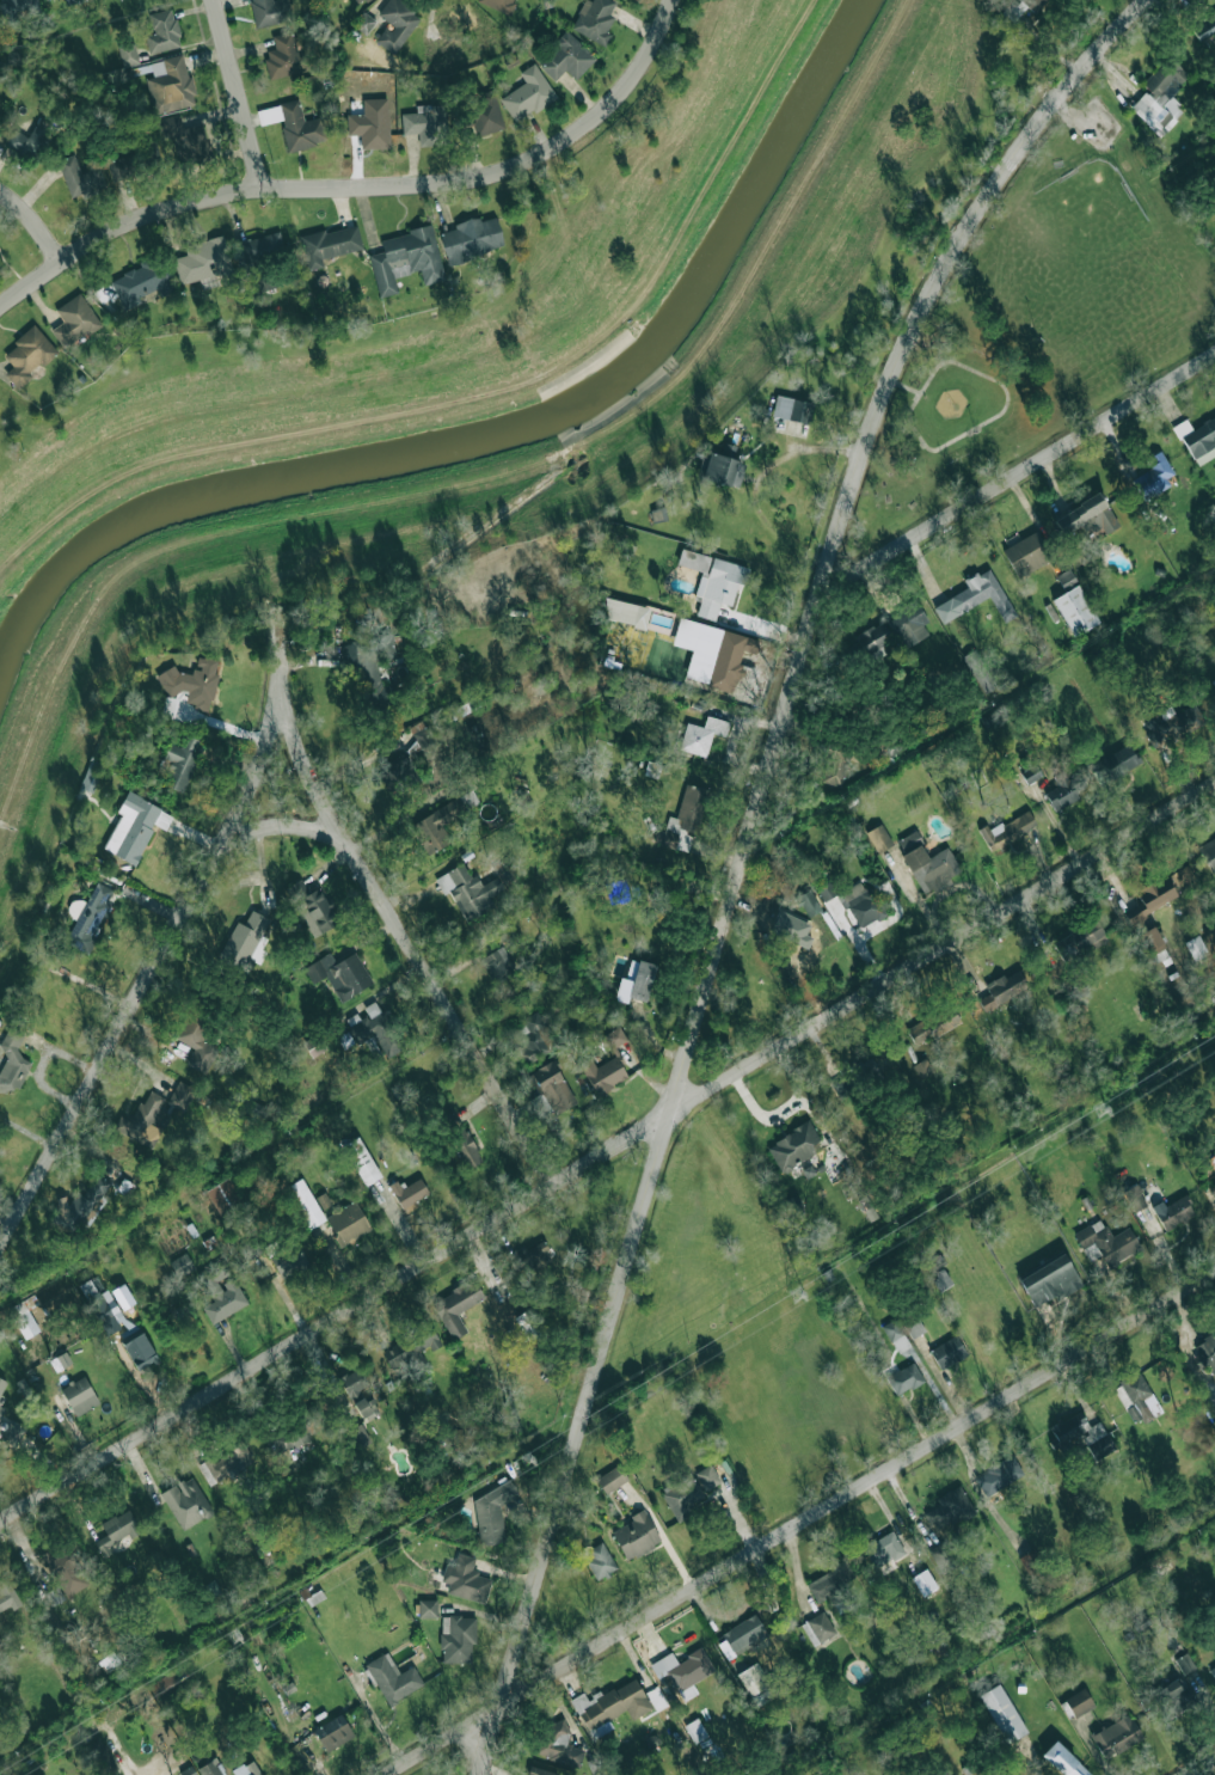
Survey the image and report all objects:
building: (69, 1)
building: (360, 1)
building: (498, 5)
building: (19, 7)
building: (1021, 7)
building: (269, 11)
building: (594, 19)
building: (363, 22)
building: (395, 24)
building: (1204, 27)
building: (162, 32)
building: (128, 53)
building: (284, 57)
building: (566, 57)
building: (170, 84)
road: (241, 91)
building: (528, 93)
building: (1160, 97)
building: (485, 114)
building: (370, 123)
building: (427, 123)
building: (294, 124)
building: (185, 139)
building: (27, 143)
building: (123, 167)
building: (79, 177)
road: (358, 180)
road: (39, 213)
building: (472, 238)
building: (329, 244)
building: (257, 246)
building: (203, 259)
building: (406, 259)
building: (142, 281)
park: (1044, 317)
building: (74, 320)
building: (27, 355)
road: (904, 386)
building: (792, 409)
road: (968, 431)
river: (498, 434)
building: (1197, 439)
building: (720, 466)
building: (1153, 476)
road: (1017, 478)
building: (1081, 510)
building: (1027, 553)
building: (1066, 579)
building: (713, 581)
building: (982, 593)
building: (1075, 610)
building: (626, 612)
building: (910, 623)
building: (873, 644)
building: (713, 653)
road: (282, 655)
building: (367, 655)
building: (1214, 681)
building: (191, 683)
building: (424, 733)
building: (701, 735)
building: (1117, 759)
building: (180, 761)
building: (833, 766)
building: (397, 770)
road: (257, 773)
building: (1031, 773)
building: (1064, 789)
building: (688, 810)
building: (135, 826)
building: (435, 826)
building: (1008, 830)
building: (878, 838)
building: (1209, 851)
road: (745, 855)
building: (927, 863)
building: (467, 890)
building: (826, 890)
building: (808, 902)
building: (1149, 902)
building: (863, 904)
building: (318, 911)
building: (87, 918)
building: (1080, 941)
building: (245, 942)
building: (803, 942)
road: (409, 944)
building: (1153, 944)
building: (1196, 947)
road: (780, 954)
building: (497, 963)
building: (339, 974)
building: (636, 981)
building: (1005, 986)
road: (141, 987)
building: (933, 1026)
building: (378, 1028)
building: (532, 1036)
building: (196, 1040)
building: (314, 1045)
building: (12, 1060)
building: (607, 1065)
building: (922, 1069)
building: (552, 1087)
building: (180, 1095)
power tower: (1097, 1109)
building: (143, 1116)
building: (793, 1146)
road: (608, 1147)
building: (465, 1149)
building: (361, 1161)
building: (1214, 1161)
building: (407, 1193)
building: (1134, 1198)
building: (226, 1199)
building: (305, 1202)
building: (1173, 1212)
building: (348, 1223)
building: (1105, 1242)
building: (532, 1257)
building: (289, 1260)
building: (179, 1266)
building: (940, 1280)
building: (1050, 1280)
building: (220, 1294)
power tower: (794, 1296)
building: (123, 1297)
building: (455, 1305)
building: (24, 1316)
building: (528, 1324)
building: (127, 1326)
building: (914, 1327)
building: (896, 1335)
building: (410, 1345)
building: (1209, 1347)
building: (947, 1352)
building: (60, 1361)
building: (904, 1378)
building: (354, 1382)
building: (2, 1385)
building: (79, 1395)
building: (1136, 1398)
building: (367, 1407)
building: (1, 1410)
building: (360, 1436)
building: (1080, 1436)
building: (290, 1438)
building: (226, 1464)
building: (998, 1475)
building: (707, 1476)
building: (612, 1479)
building: (681, 1495)
building: (186, 1502)
building: (949, 1508)
building: (491, 1512)
road: (792, 1523)
building: (116, 1530)
building: (636, 1535)
building: (883, 1548)
building: (941, 1556)
building: (599, 1560)
building: (1031, 1562)
building: (65, 1571)
building: (465, 1579)
building: (923, 1581)
building: (7, 1595)
power tower: (317, 1596)
building: (427, 1608)
building: (818, 1628)
building: (742, 1635)
building: (458, 1638)
building: (1214, 1651)
building: (1185, 1663)
building: (682, 1671)
building: (1213, 1671)
building: (392, 1678)
building: (164, 1683)
building: (755, 1684)
building: (1173, 1696)
building: (1079, 1702)
building: (612, 1703)
building: (1004, 1713)
building: (695, 1730)
building: (332, 1732)
building: (1116, 1736)
building: (558, 1743)
building: (1063, 1761)
road: (1201, 1767)
building: (209, 1768)
building: (246, 1769)
building: (540, 1771)

